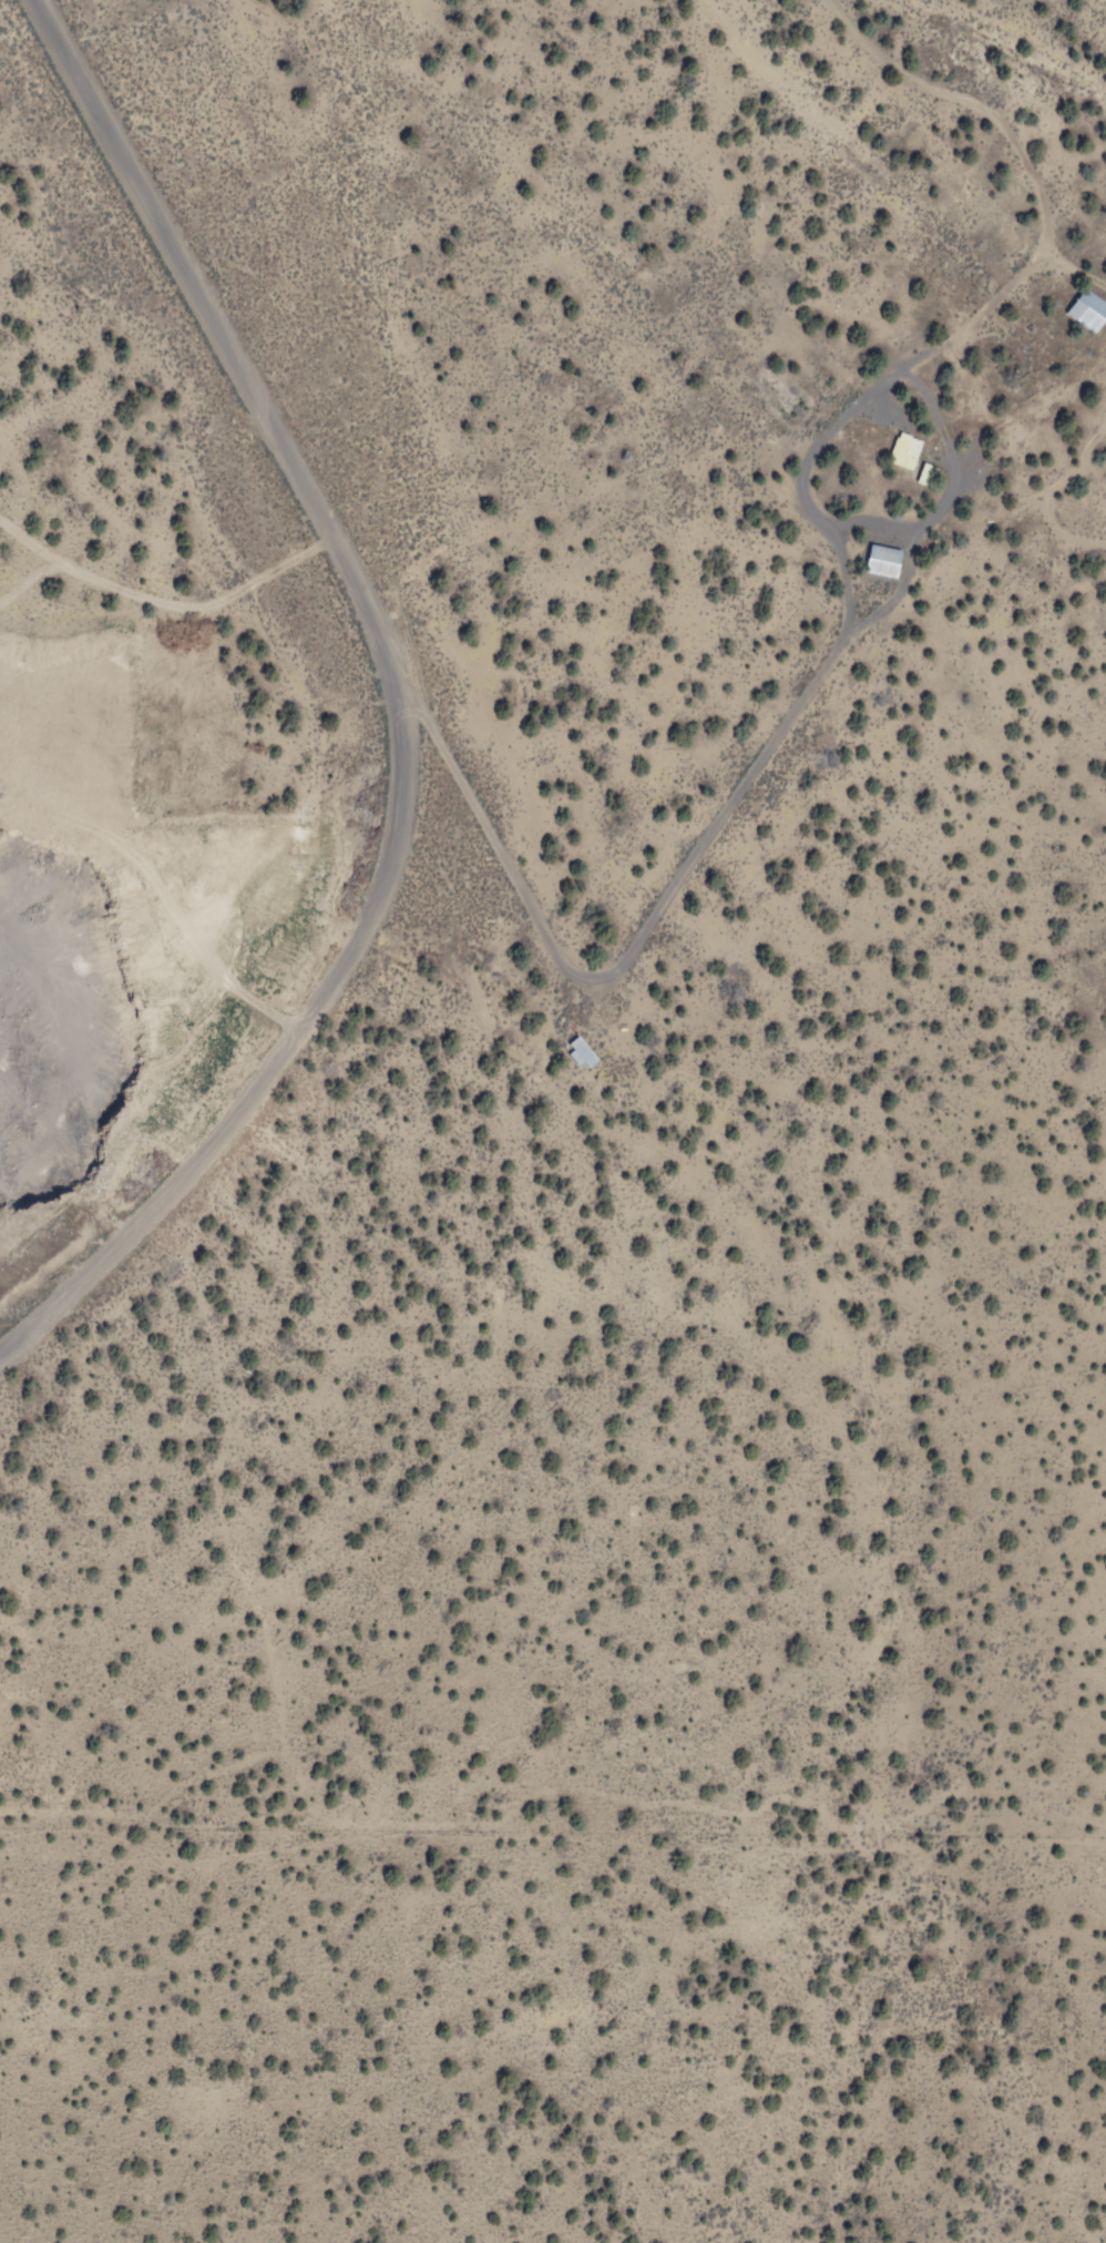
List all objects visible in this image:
road: (1034, 40)
building: (1088, 309)
building: (884, 560)
road: (387, 700)
quarry: (127, 991)
building: (580, 1050)

